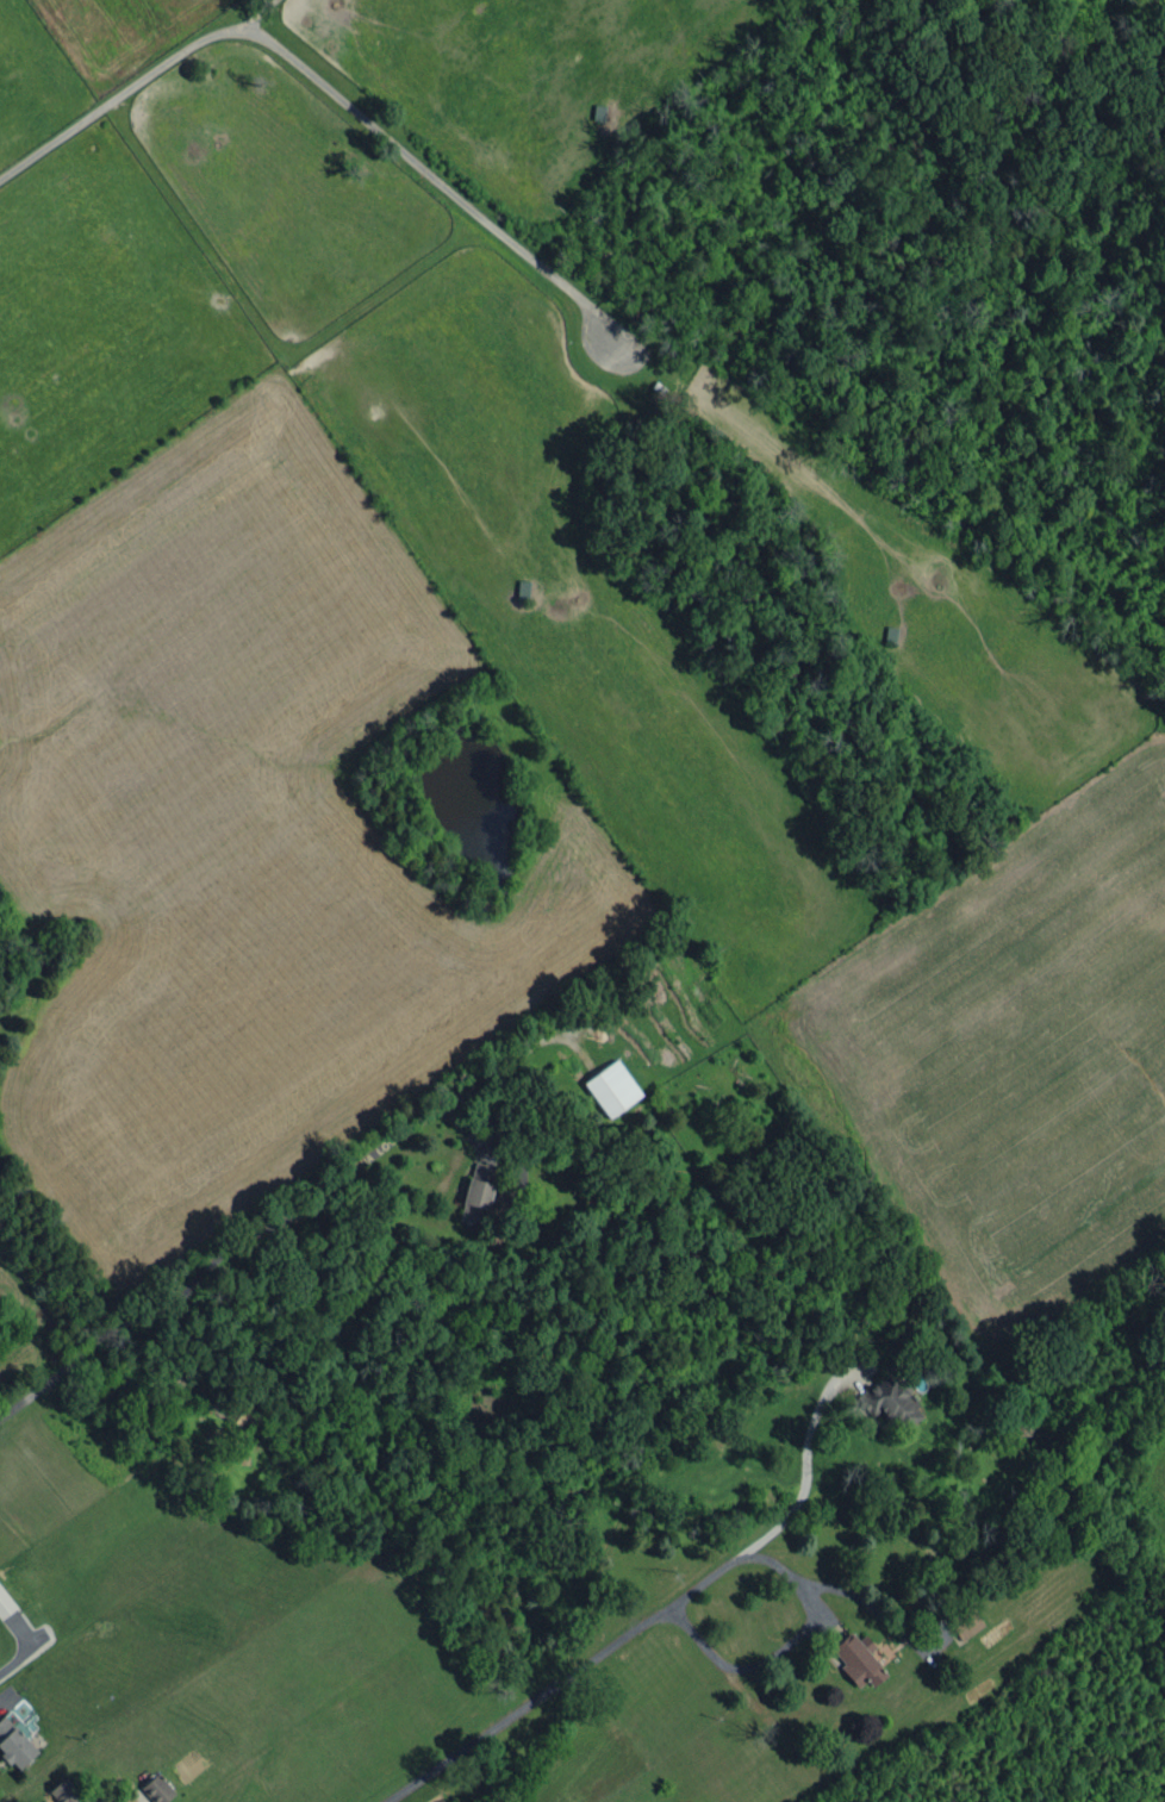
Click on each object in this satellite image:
building: (611, 1087)
road: (231, 1249)
building: (890, 1402)
road: (805, 1472)
building: (5, 1603)
building: (962, 1622)
road: (784, 1645)
building: (858, 1658)
road: (562, 1678)
building: (14, 1744)
building: (157, 1788)
building: (69, 1794)

